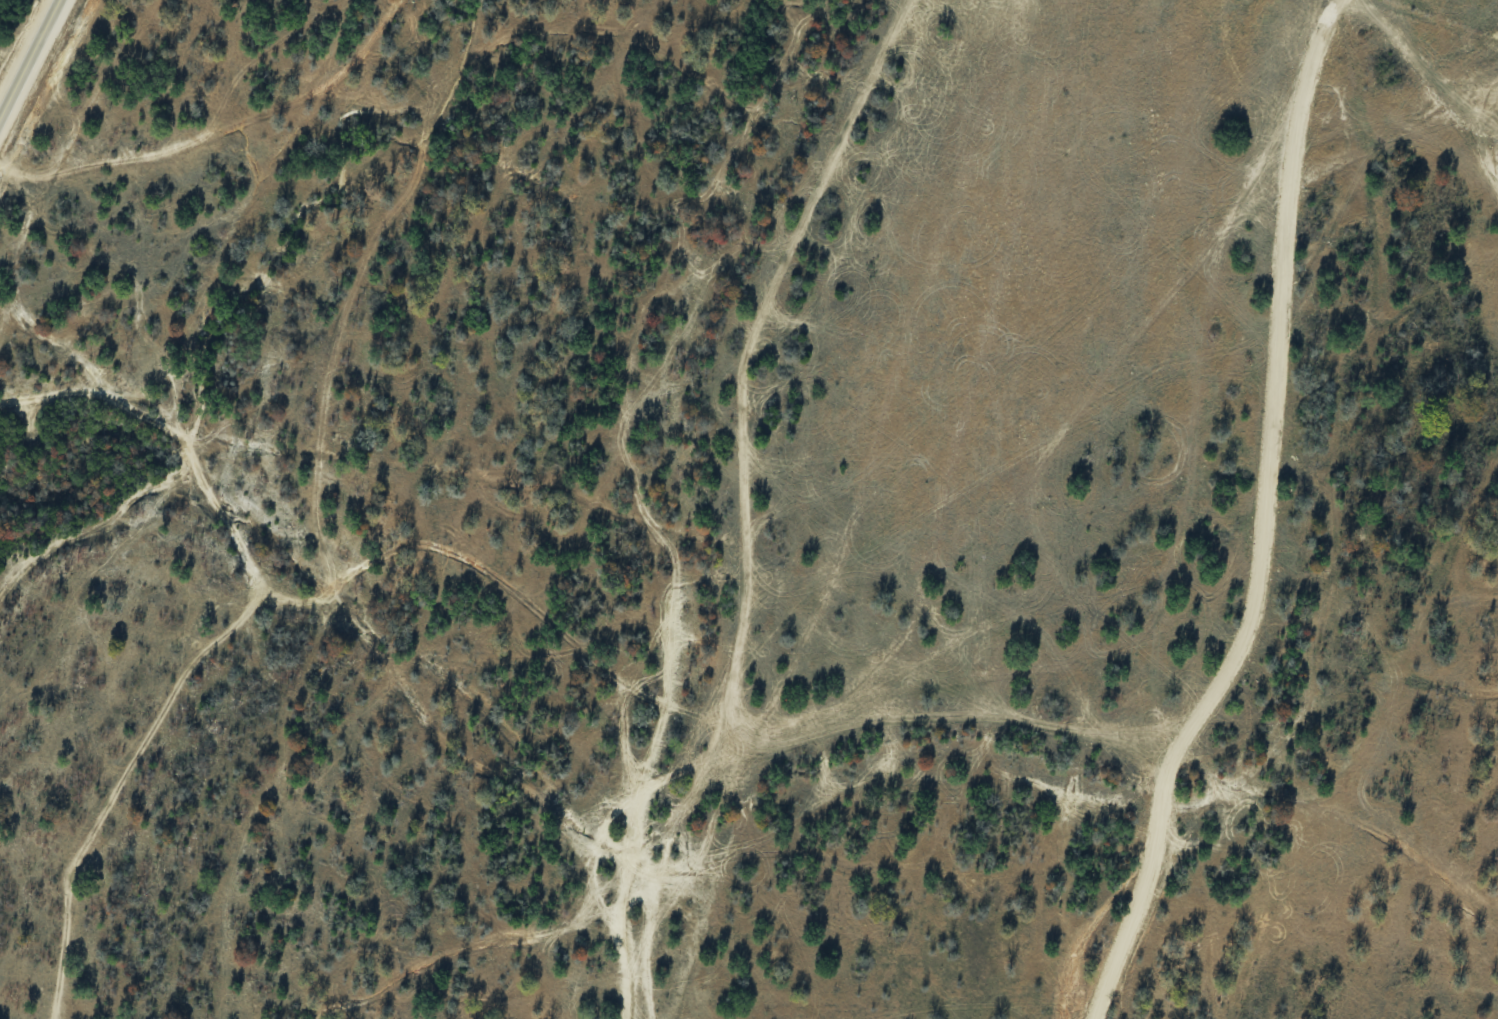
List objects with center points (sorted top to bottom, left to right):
road: (32, 67)
road: (1266, 522)

